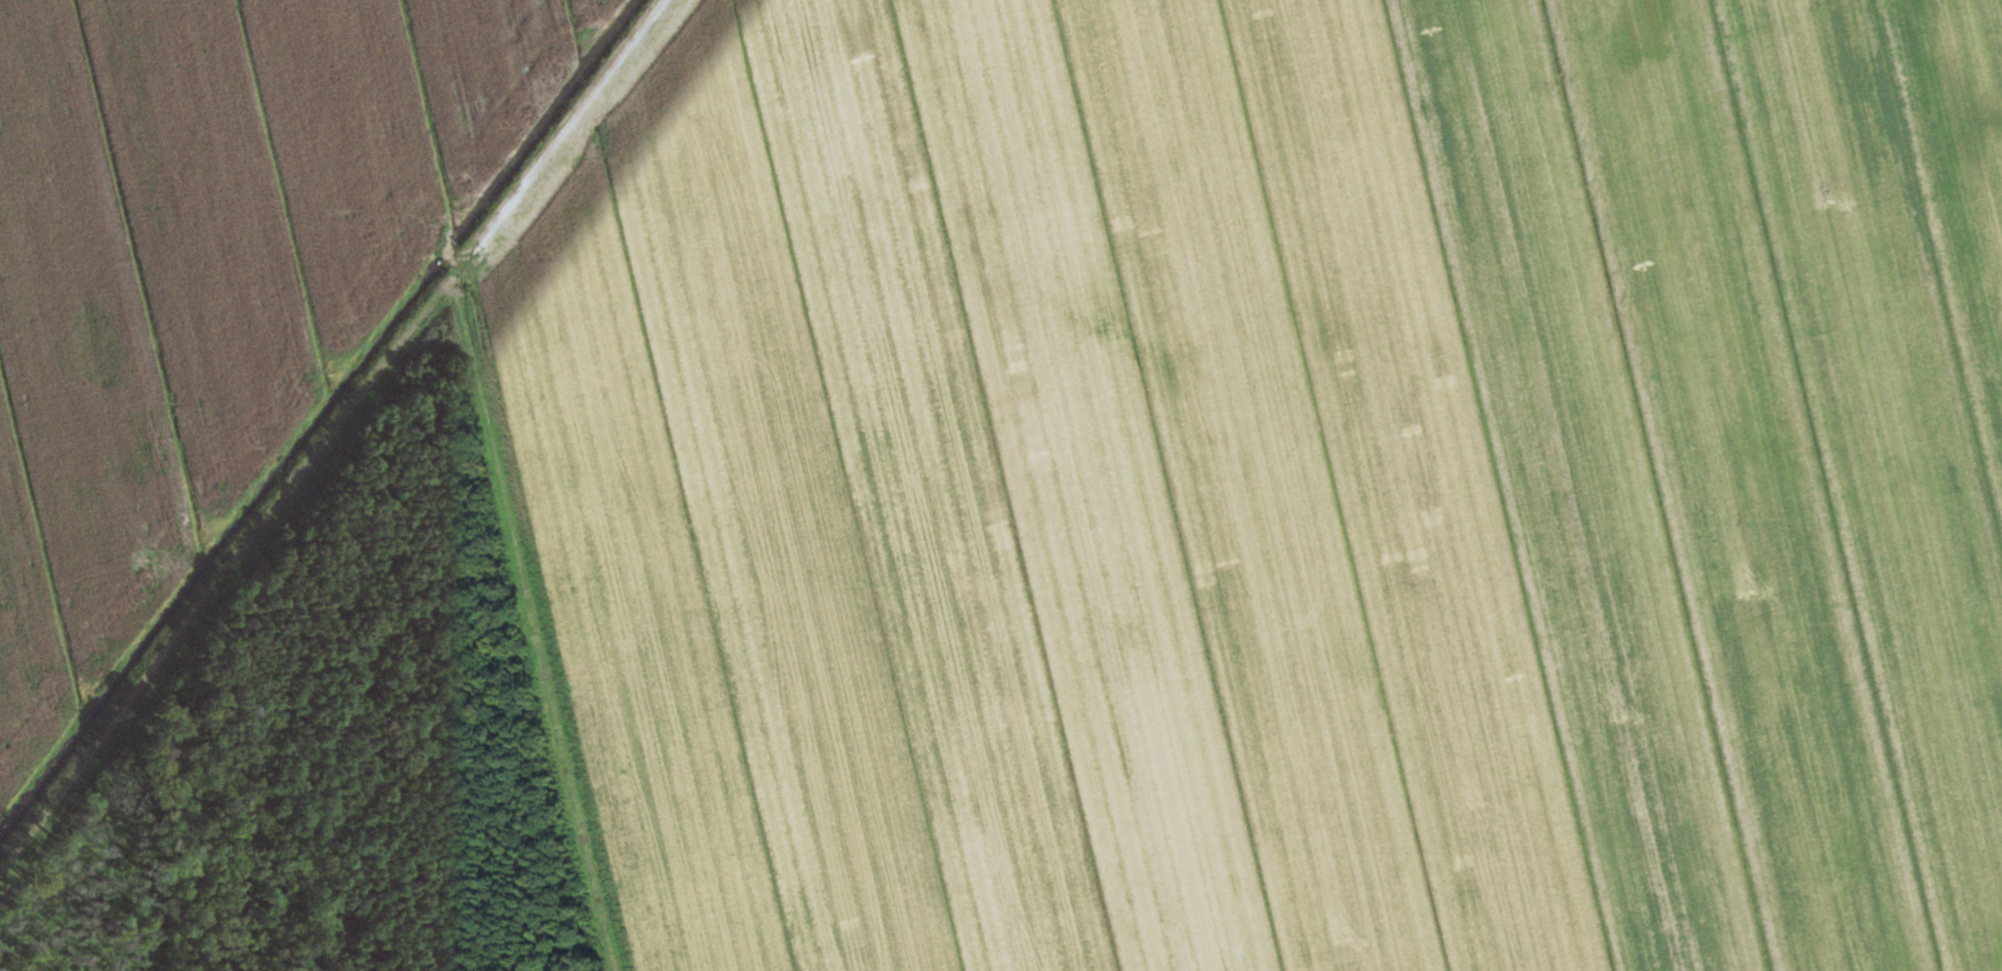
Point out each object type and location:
road: (564, 130)
crop: (208, 270)
crop: (1279, 483)

